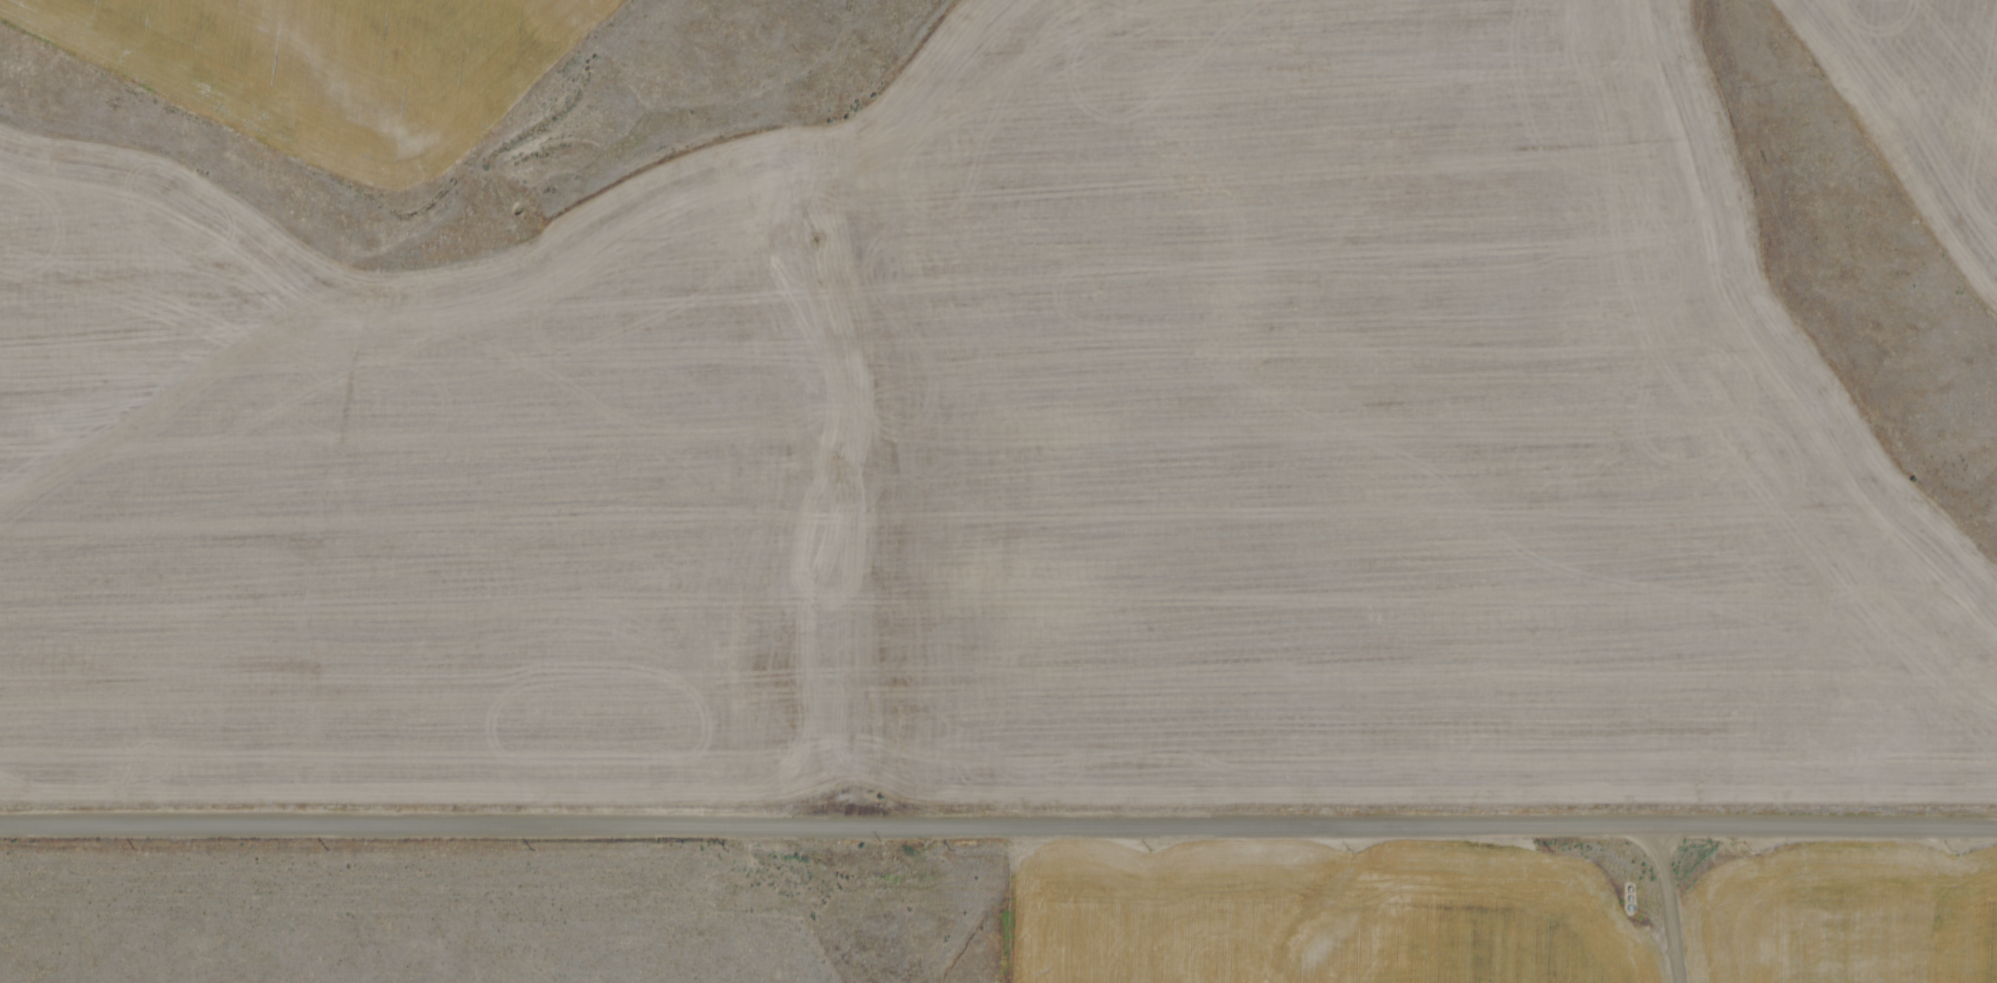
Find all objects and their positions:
road: (998, 820)
road: (1667, 898)

